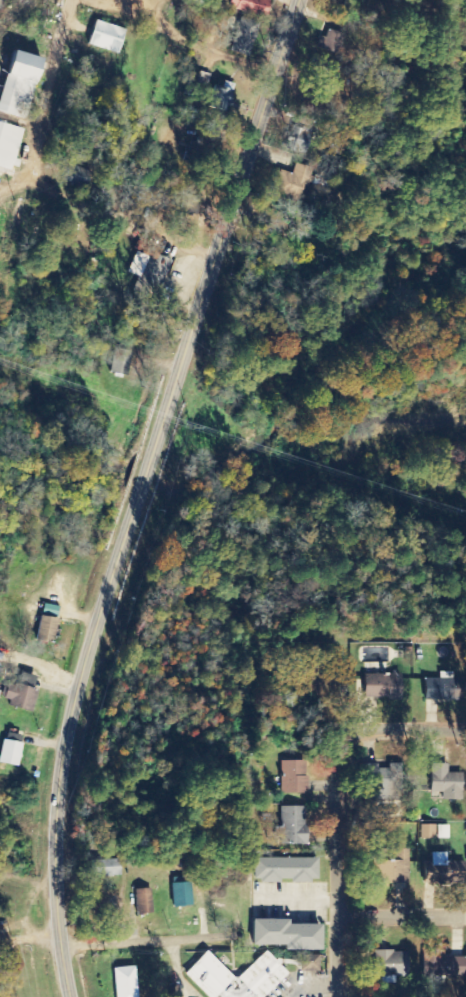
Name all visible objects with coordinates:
road: (144, 1)
building: (249, 6)
building: (102, 36)
building: (243, 36)
road: (200, 37)
building: (329, 42)
building: (320, 63)
building: (16, 83)
building: (216, 98)
building: (297, 140)
building: (7, 145)
building: (70, 175)
road: (37, 183)
building: (292, 183)
building: (148, 277)
building: (118, 362)
road: (138, 491)
building: (43, 630)
building: (379, 687)
building: (440, 688)
building: (19, 693)
road: (402, 732)
building: (8, 753)
building: (292, 777)
building: (443, 783)
building: (291, 826)
building: (426, 832)
building: (442, 832)
road: (332, 867)
building: (102, 868)
building: (390, 868)
building: (284, 870)
building: (437, 871)
building: (179, 895)
road: (295, 900)
building: (142, 902)
road: (399, 917)
building: (282, 935)
road: (136, 943)
building: (389, 966)
building: (444, 966)
building: (263, 973)
building: (123, 982)
road: (309, 985)

